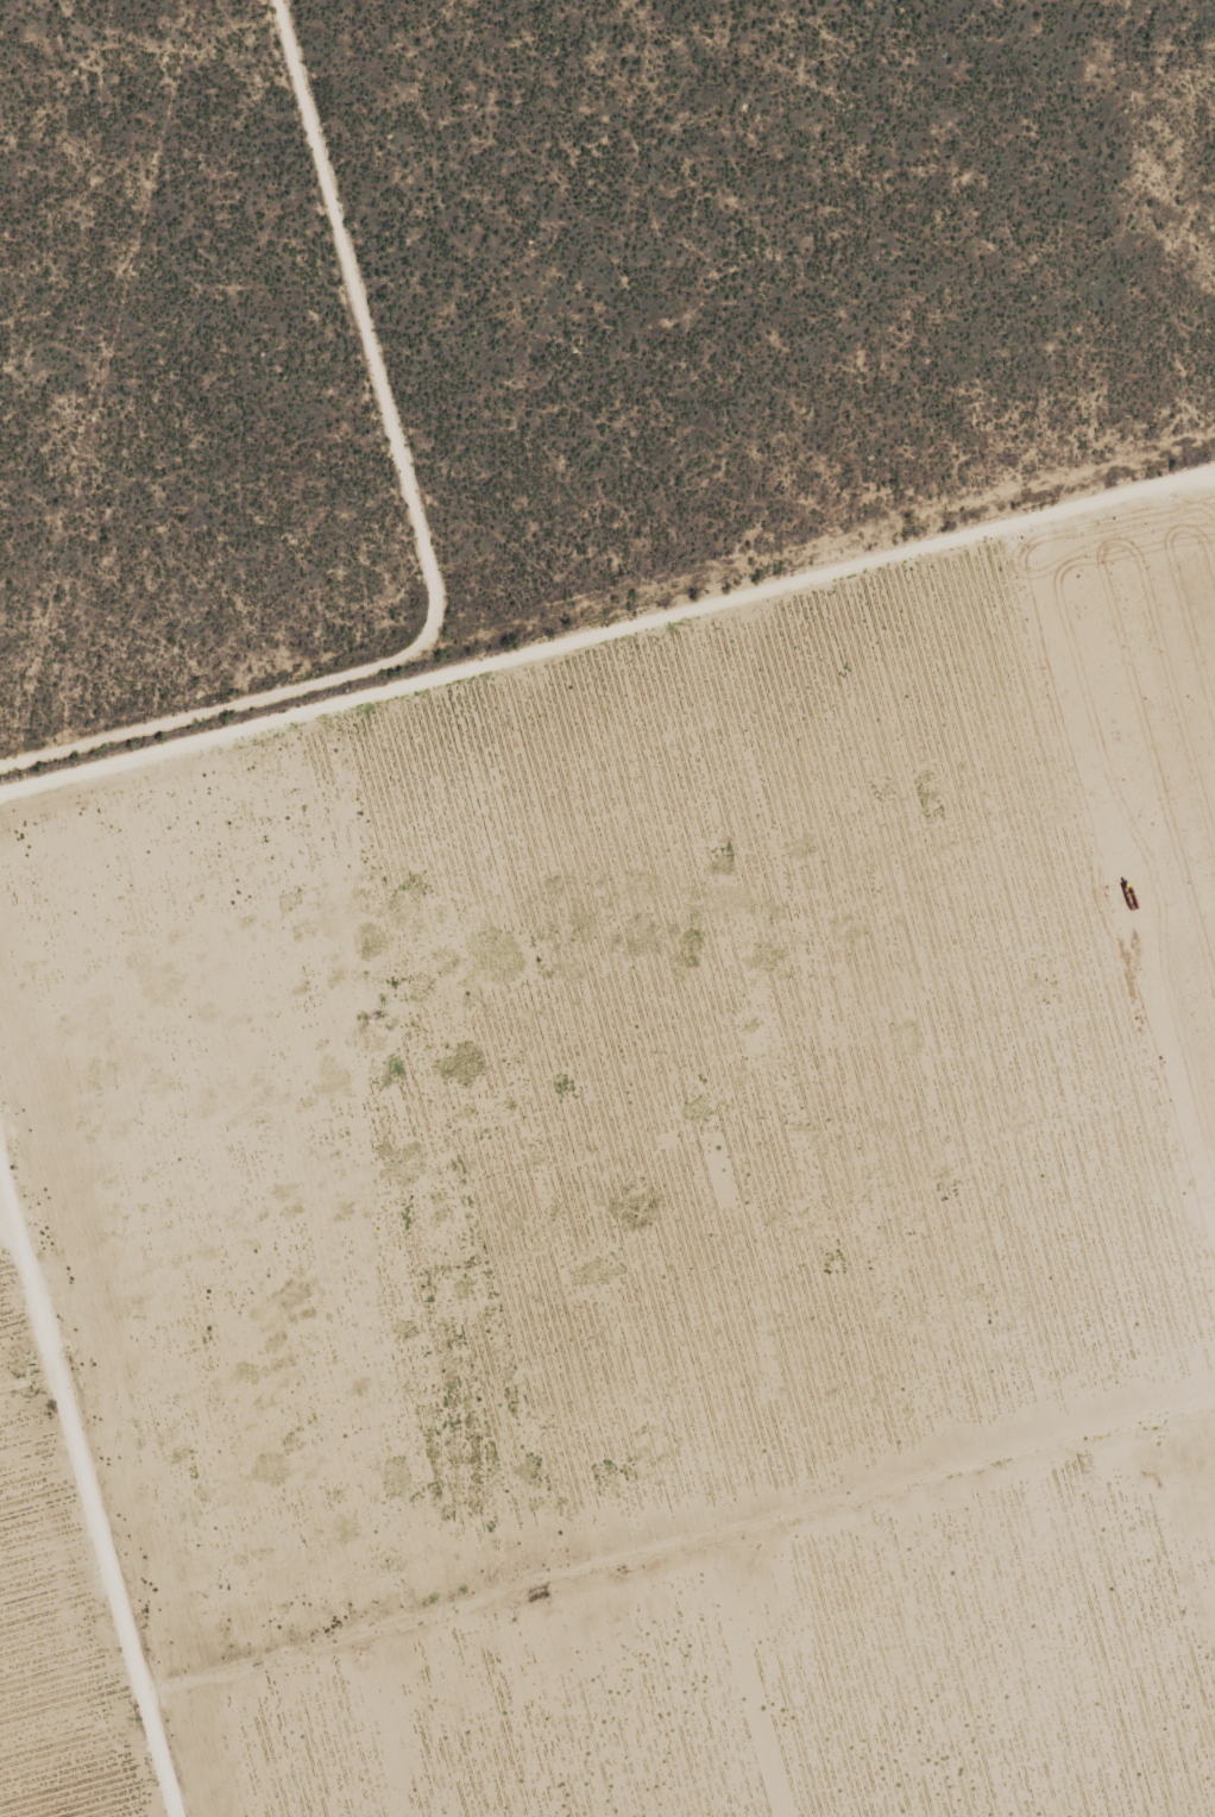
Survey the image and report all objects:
road: (342, 352)
road: (606, 667)
road: (83, 1524)

